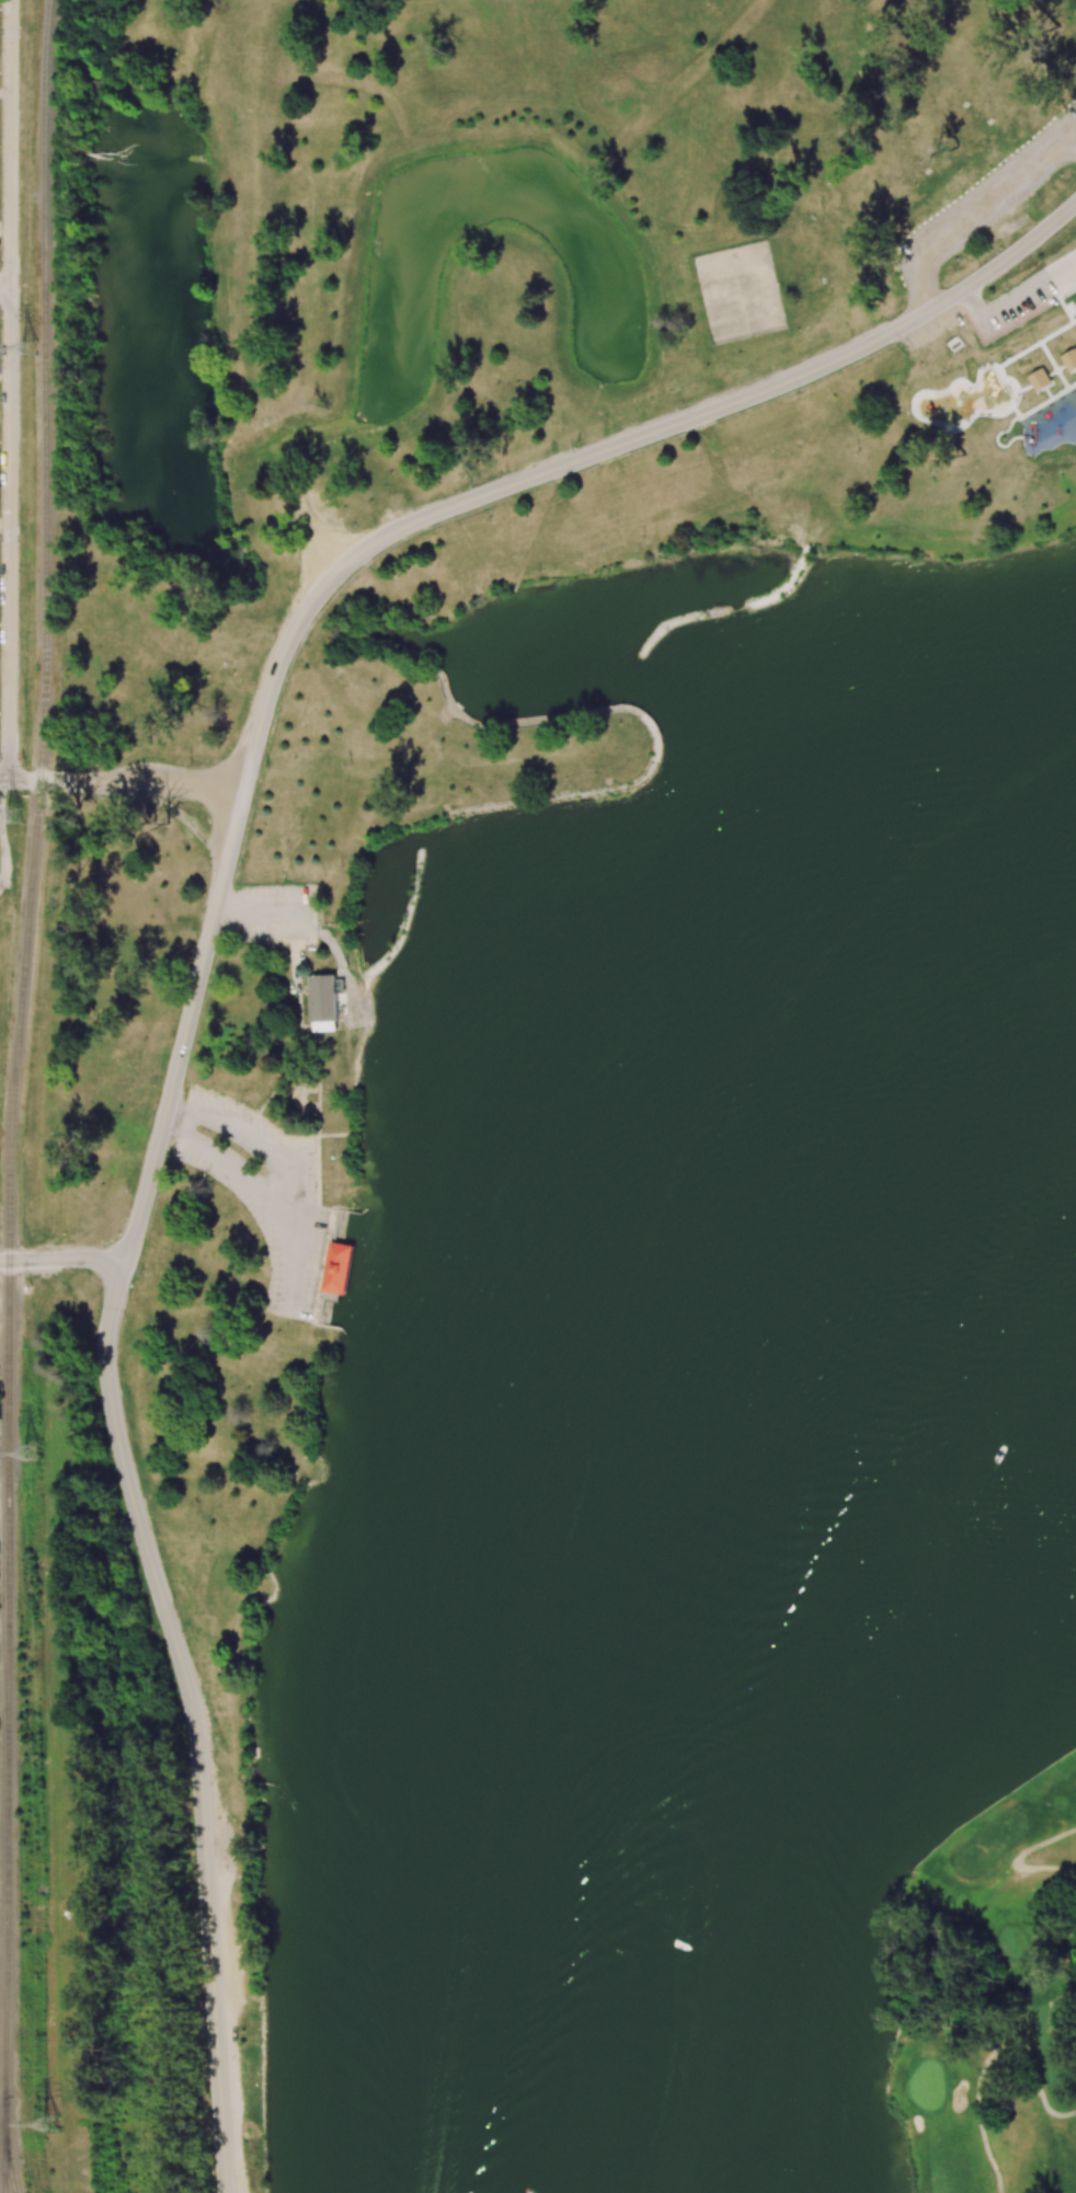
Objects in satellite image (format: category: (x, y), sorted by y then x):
park: (31, 0)
parking lot: (985, 195)
park: (734, 269)
road: (5, 288)
parking lot: (1023, 296)
park: (745, 313)
power tower: (28, 348)
building: (1069, 359)
building: (1039, 379)
road: (10, 390)
road: (707, 413)
road: (312, 553)
road: (2, 781)
road: (127, 782)
power tower: (15, 816)
road: (263, 909)
building: (322, 998)
park: (528, 1007)
railway: (15, 1095)
road: (248, 1136)
road: (226, 1156)
road: (62, 1259)
building: (336, 1267)
road: (107, 1380)
power tower: (33, 1453)
park: (4, 1528)
road: (1017, 1860)
park: (980, 1971)
road: (985, 2060)
power tower: (49, 2124)
railway: (9, 2152)

